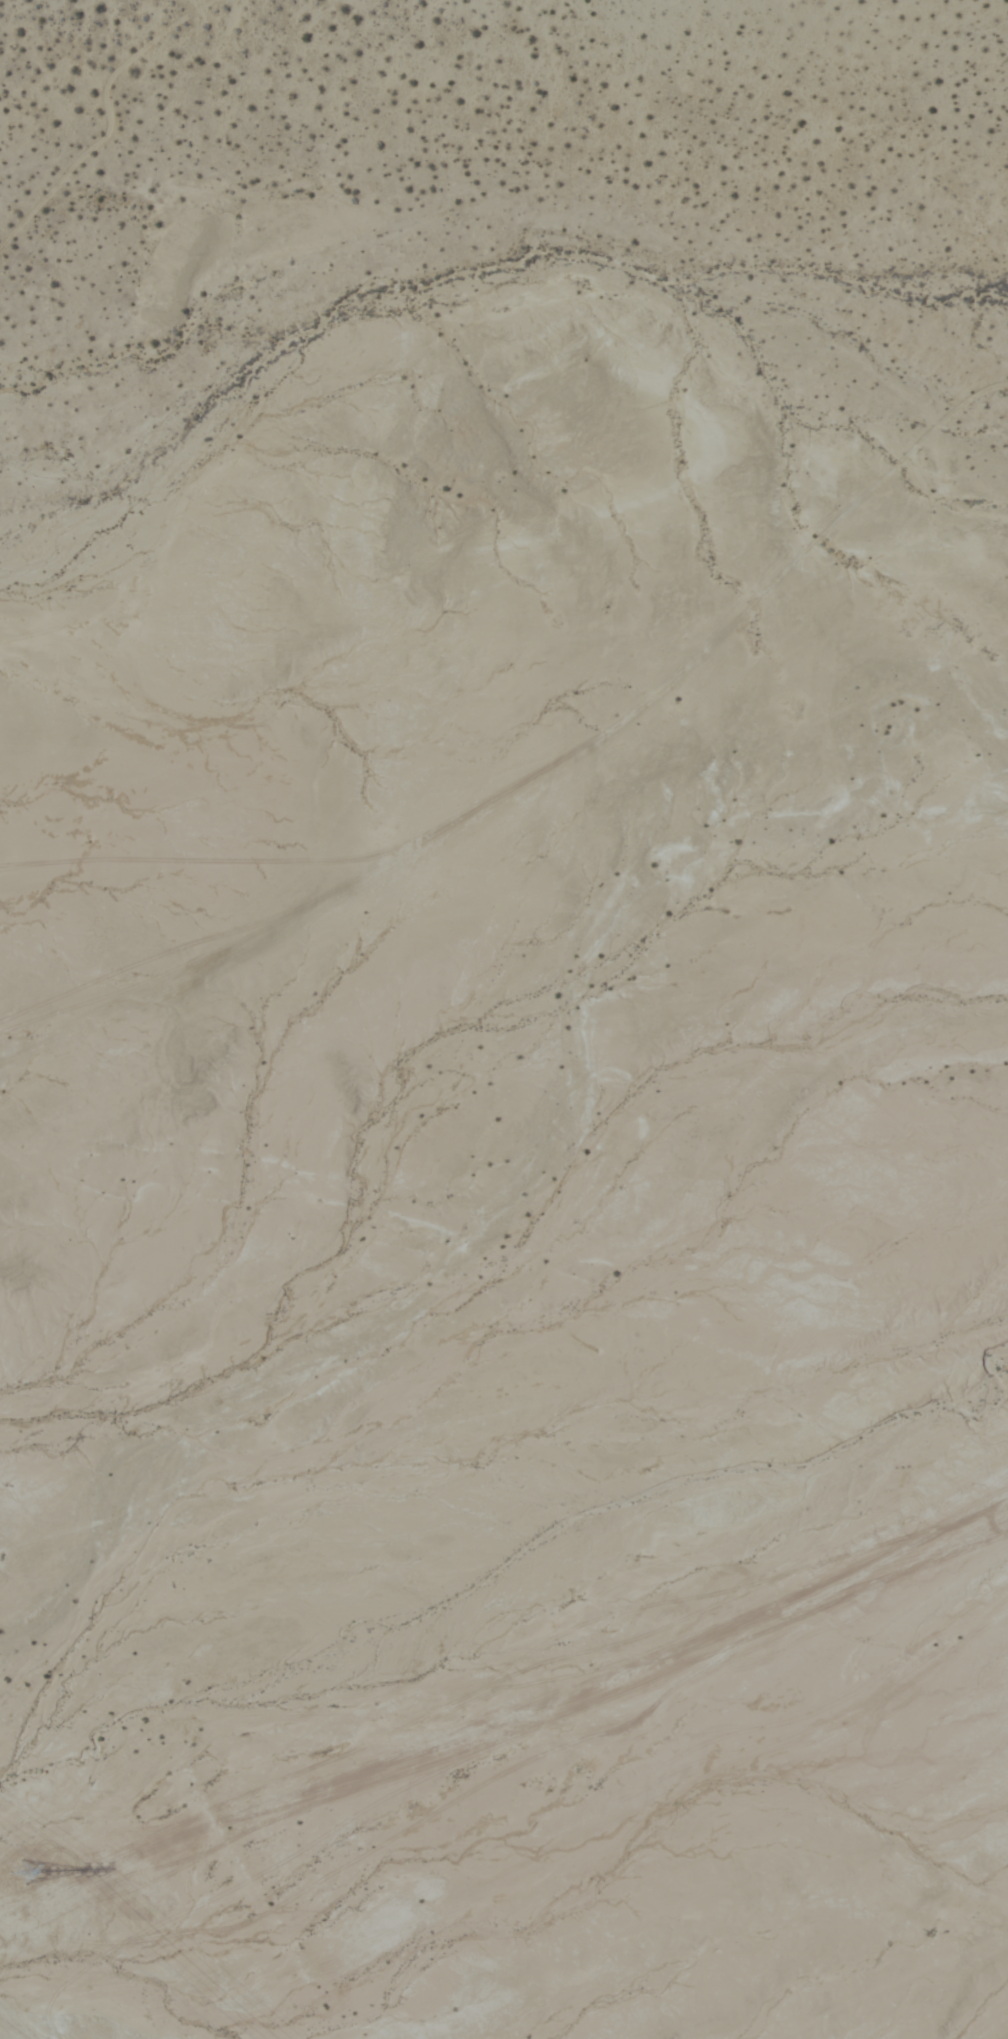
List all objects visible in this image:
power tower: (27, 1877)

